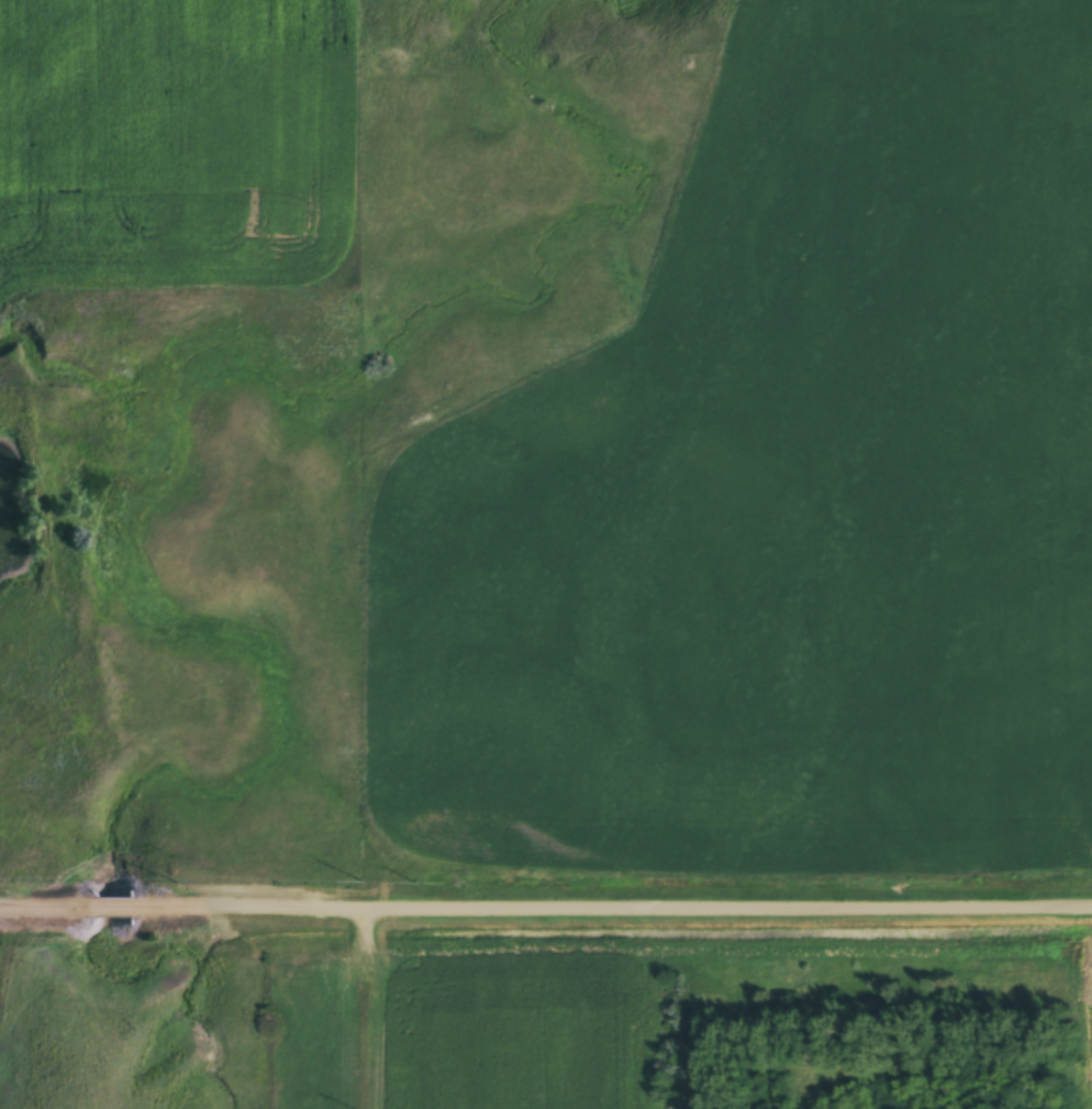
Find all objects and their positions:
river: (12, 501)
road: (545, 906)

